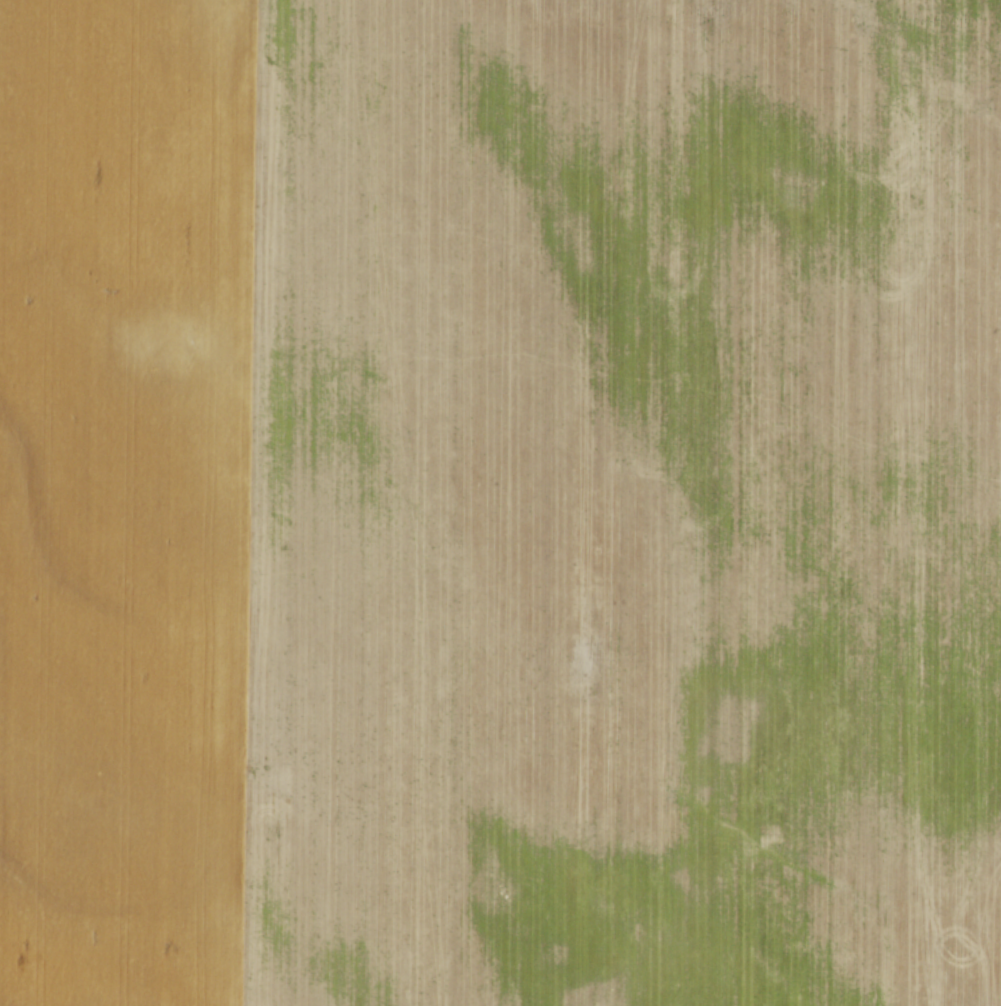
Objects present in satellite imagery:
crop: (500, 503)

